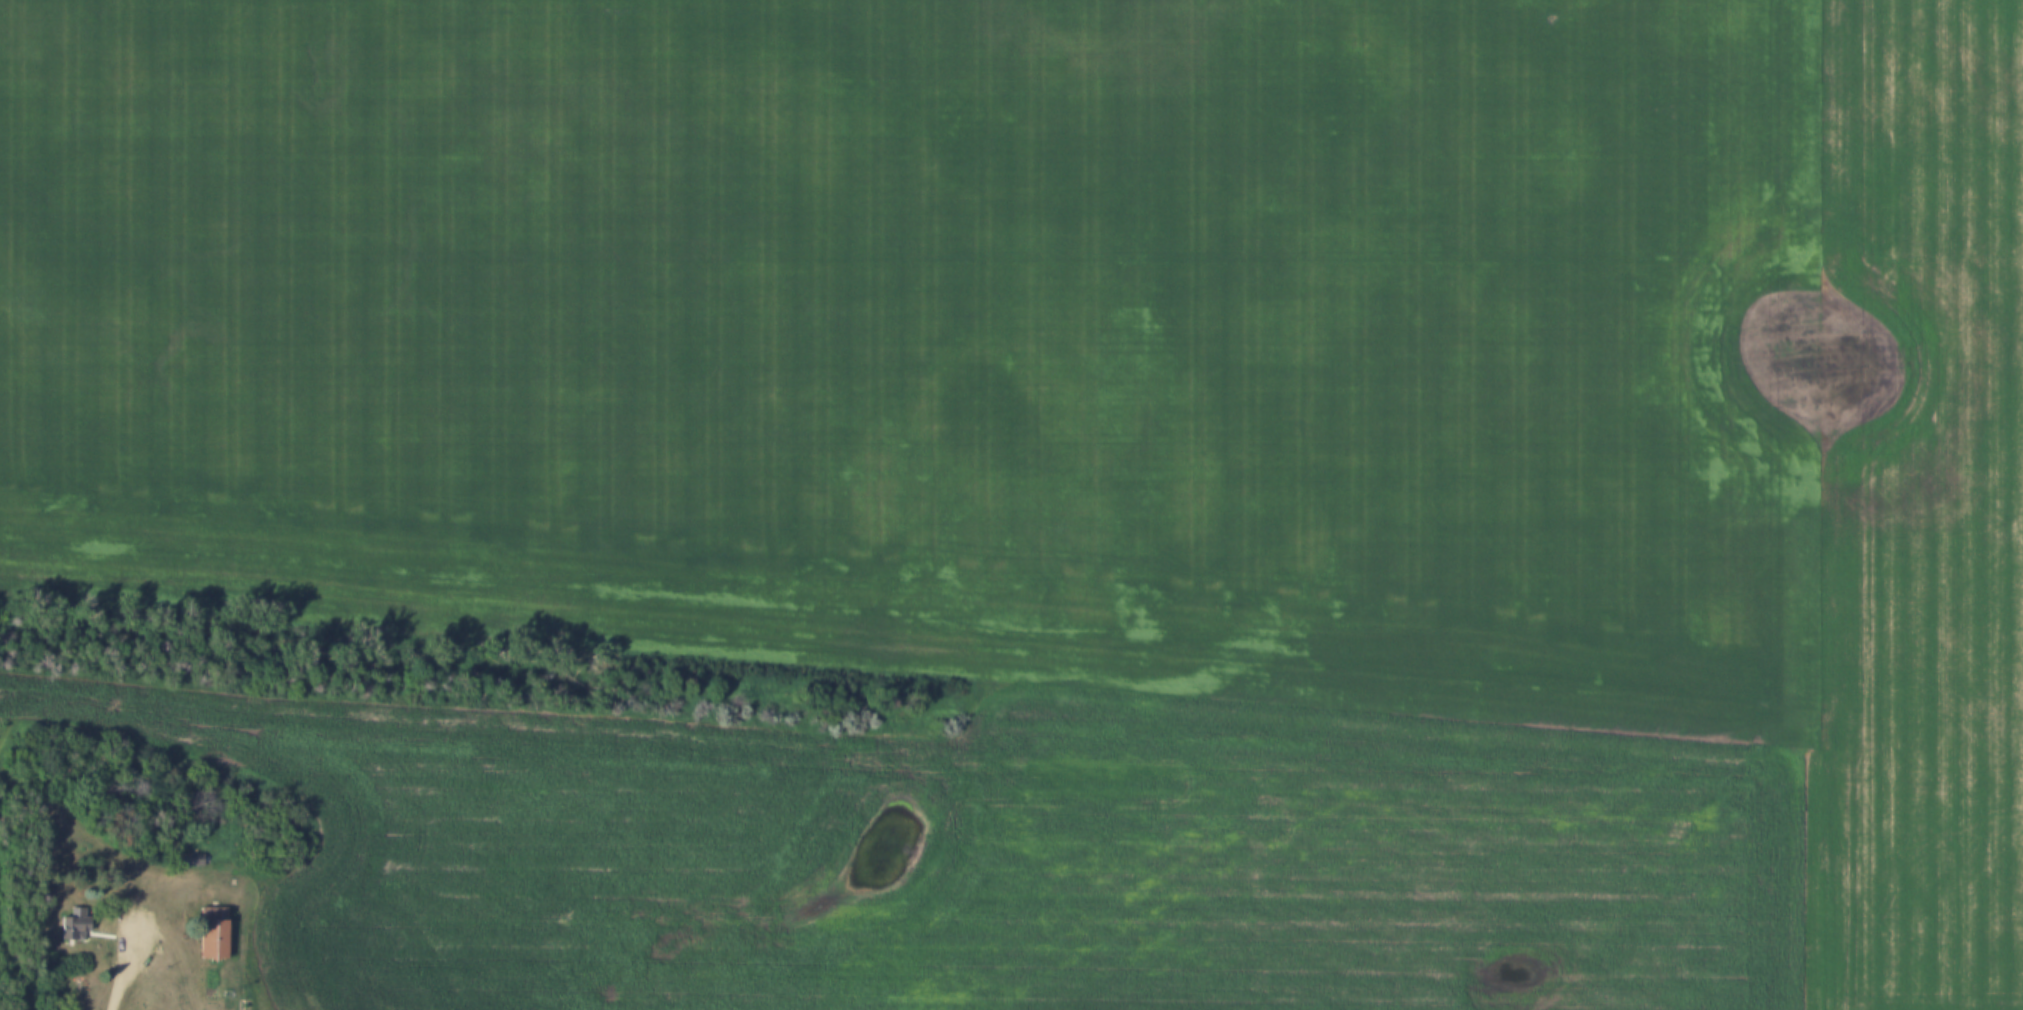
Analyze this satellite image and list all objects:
building: (70, 923)
building: (210, 932)
road: (127, 967)
building: (85, 985)

